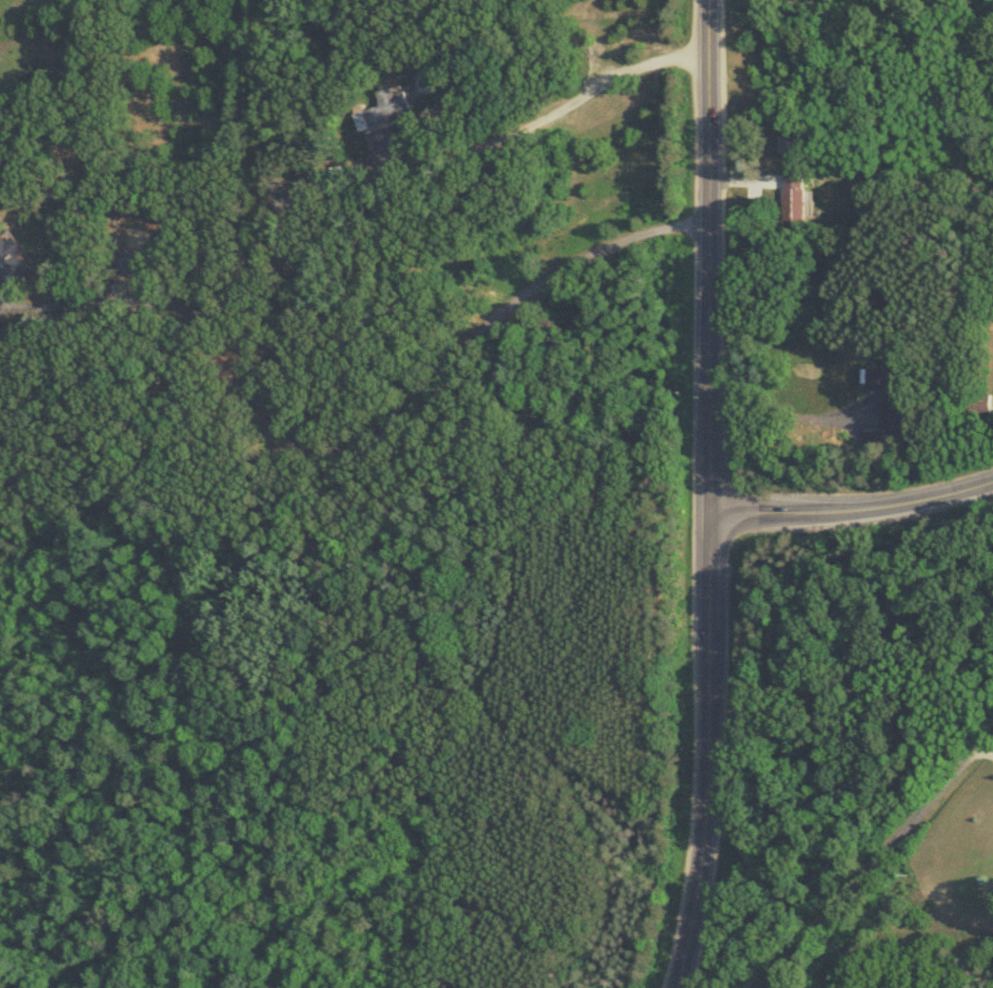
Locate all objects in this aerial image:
building: (389, 108)
road: (544, 114)
building: (787, 144)
building: (794, 198)
building: (12, 261)
building: (130, 266)
road: (707, 321)
building: (891, 412)
road: (785, 414)
road: (378, 431)
road: (850, 508)
road: (704, 816)
road: (871, 860)

